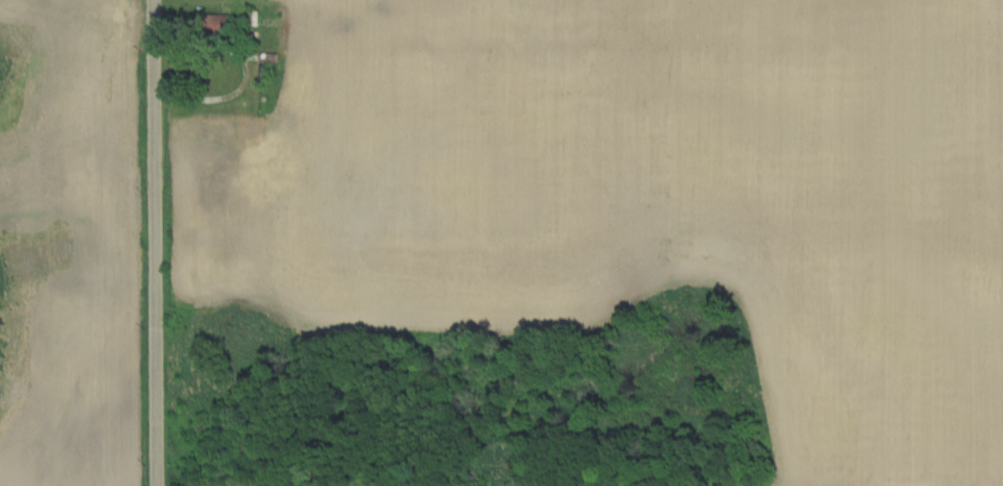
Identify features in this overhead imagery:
building: (219, 23)
road: (156, 243)

